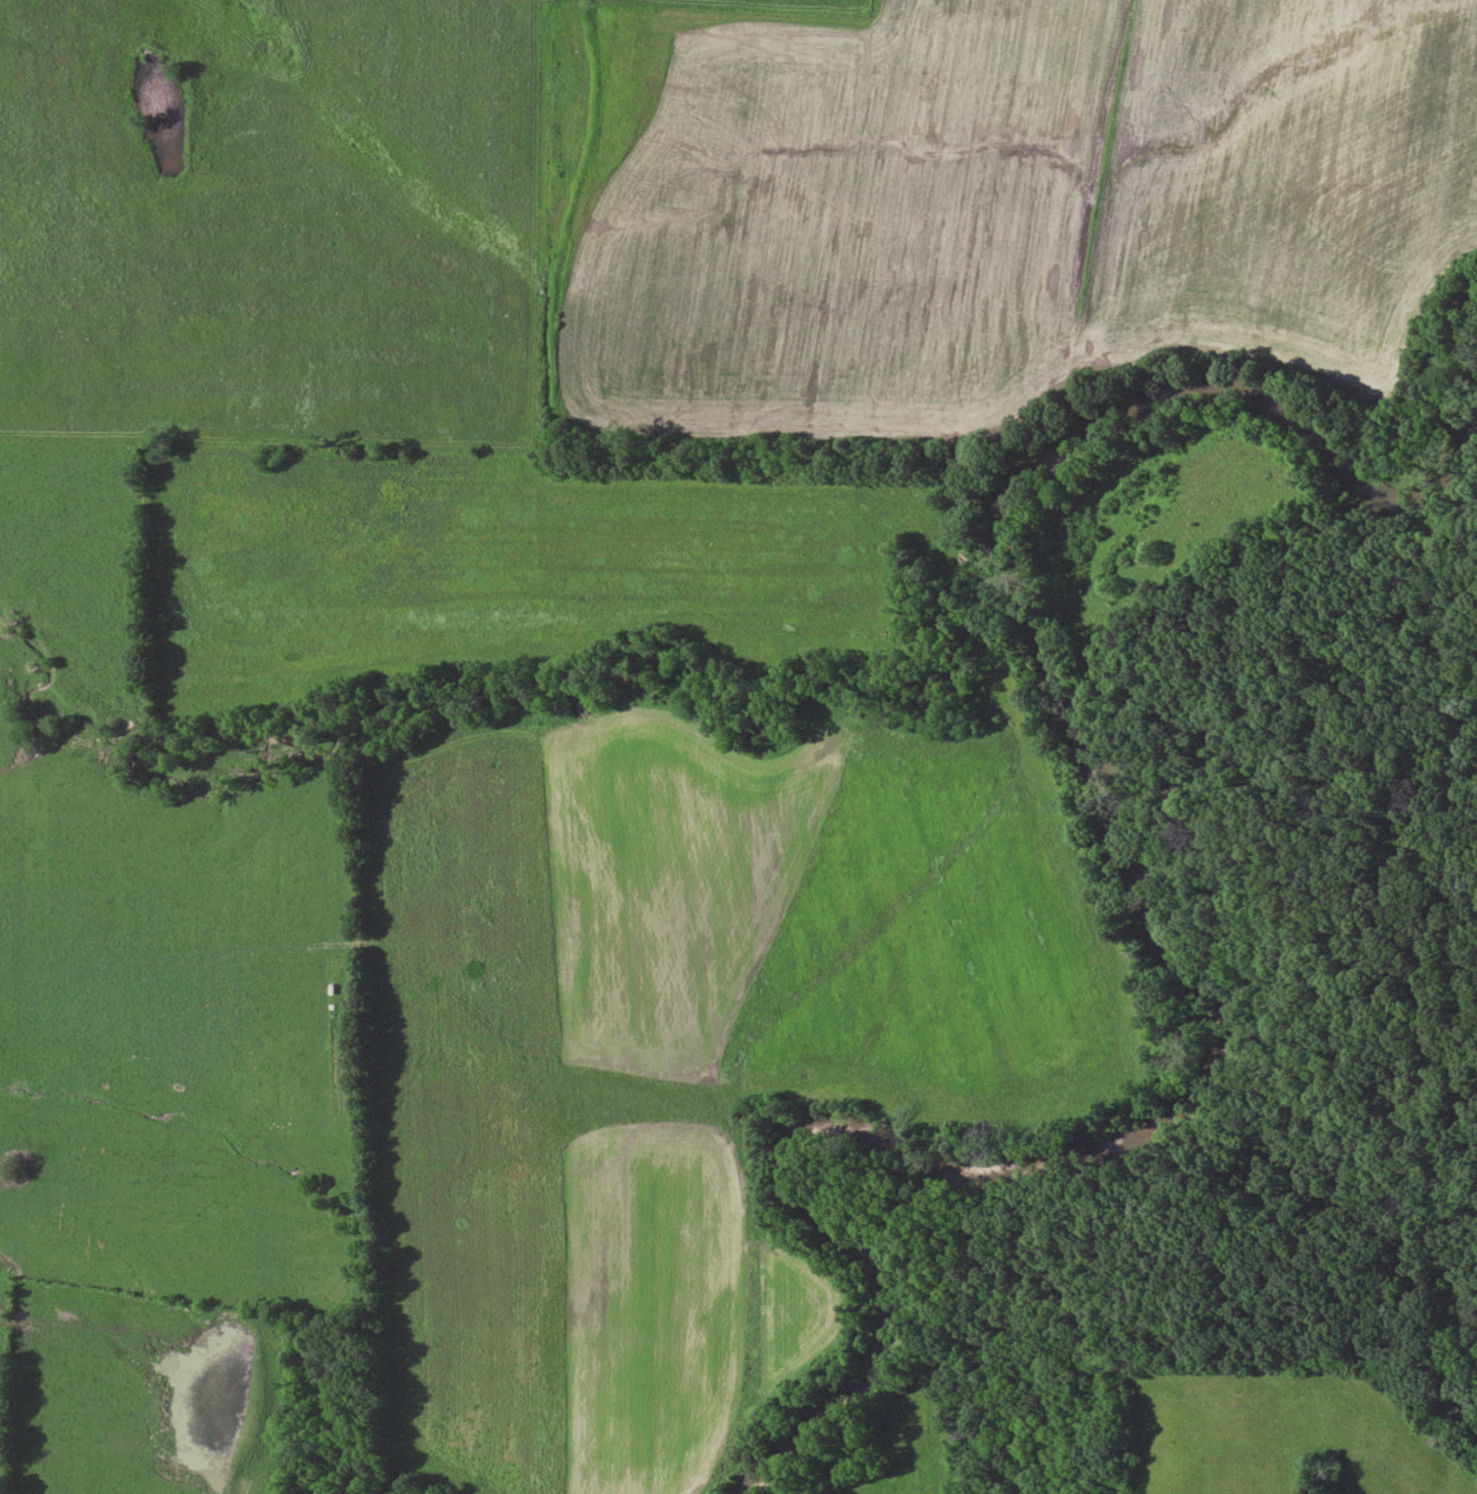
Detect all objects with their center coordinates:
river: (1200, 969)

